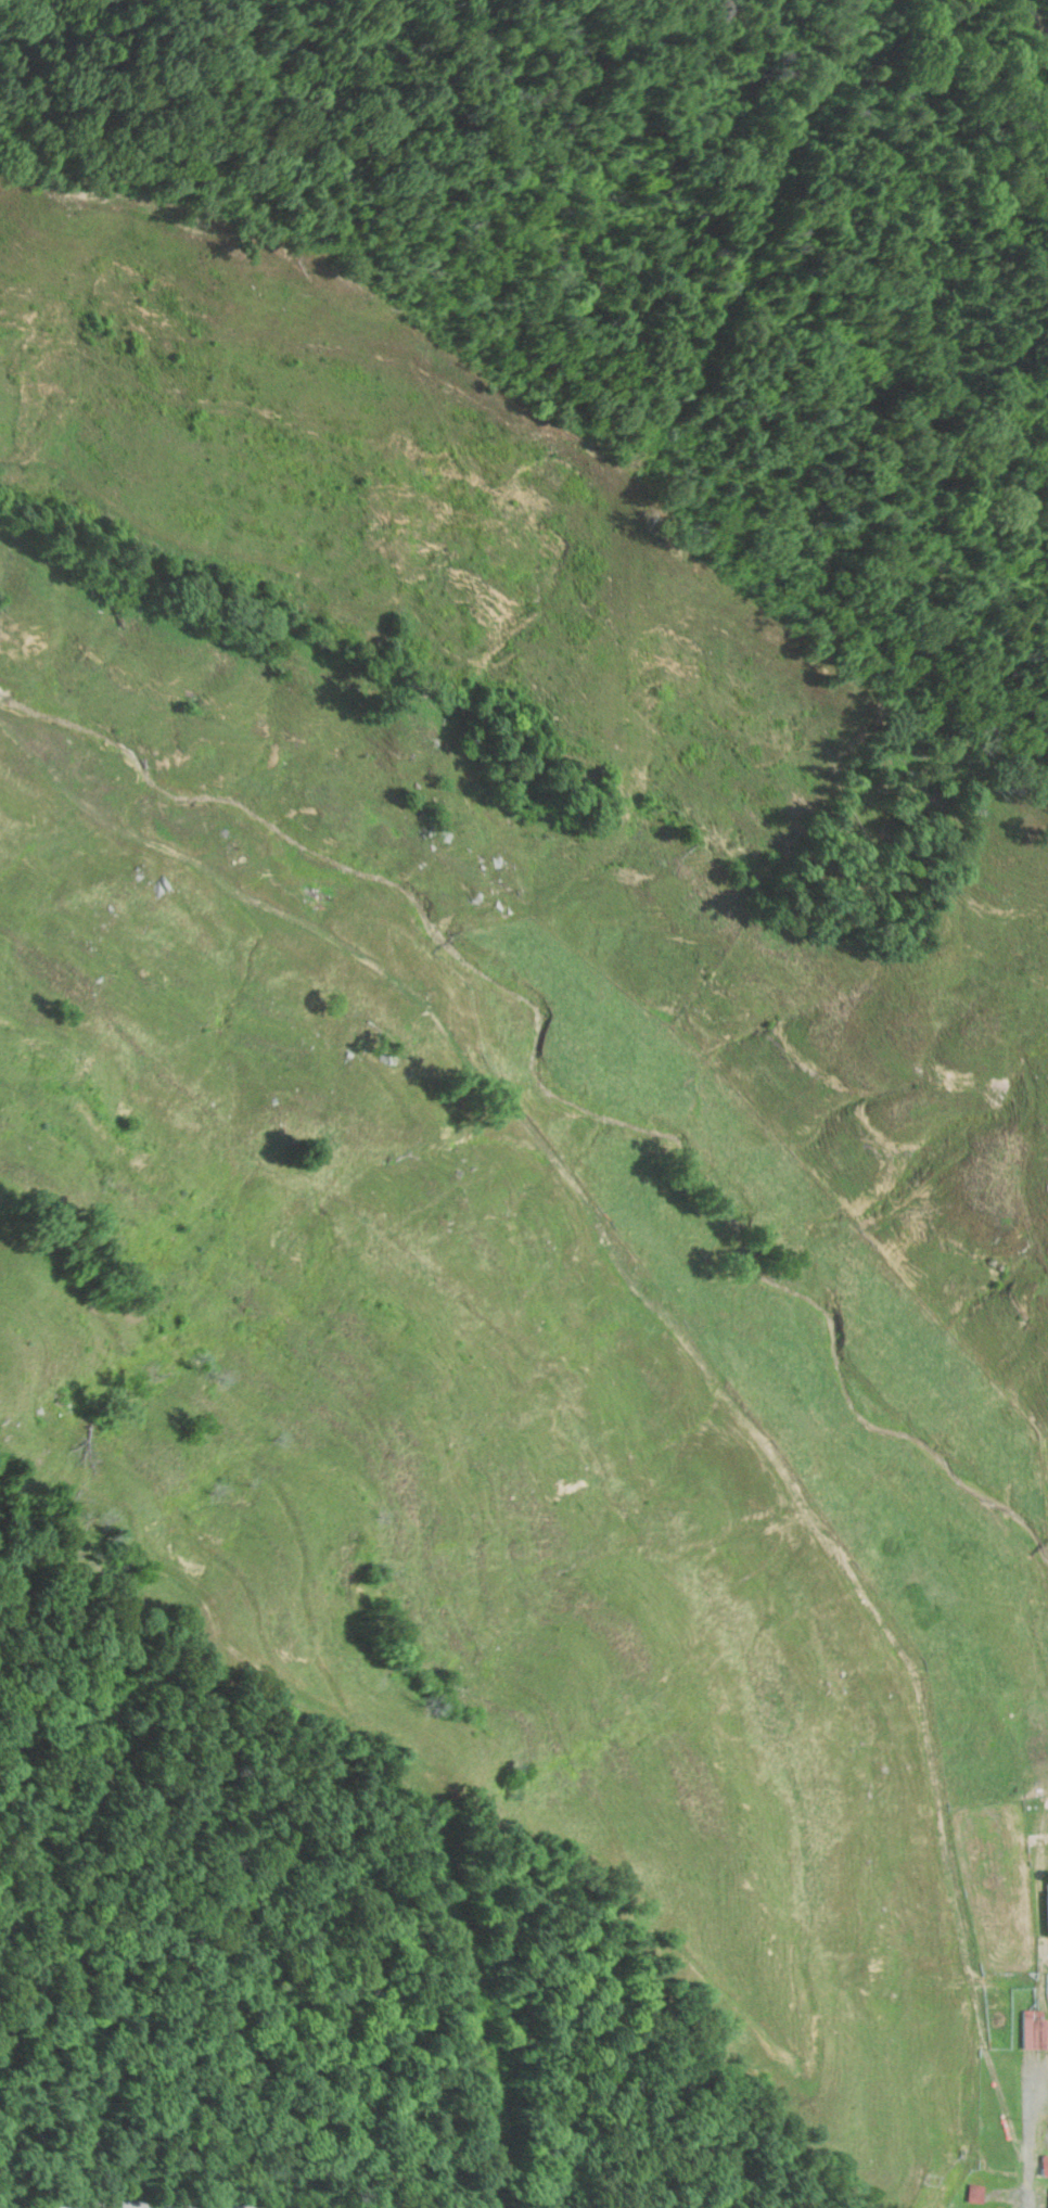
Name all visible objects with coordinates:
building: (1047, 1914)
building: (1034, 2030)
building: (1045, 2167)
road: (141, 2206)

